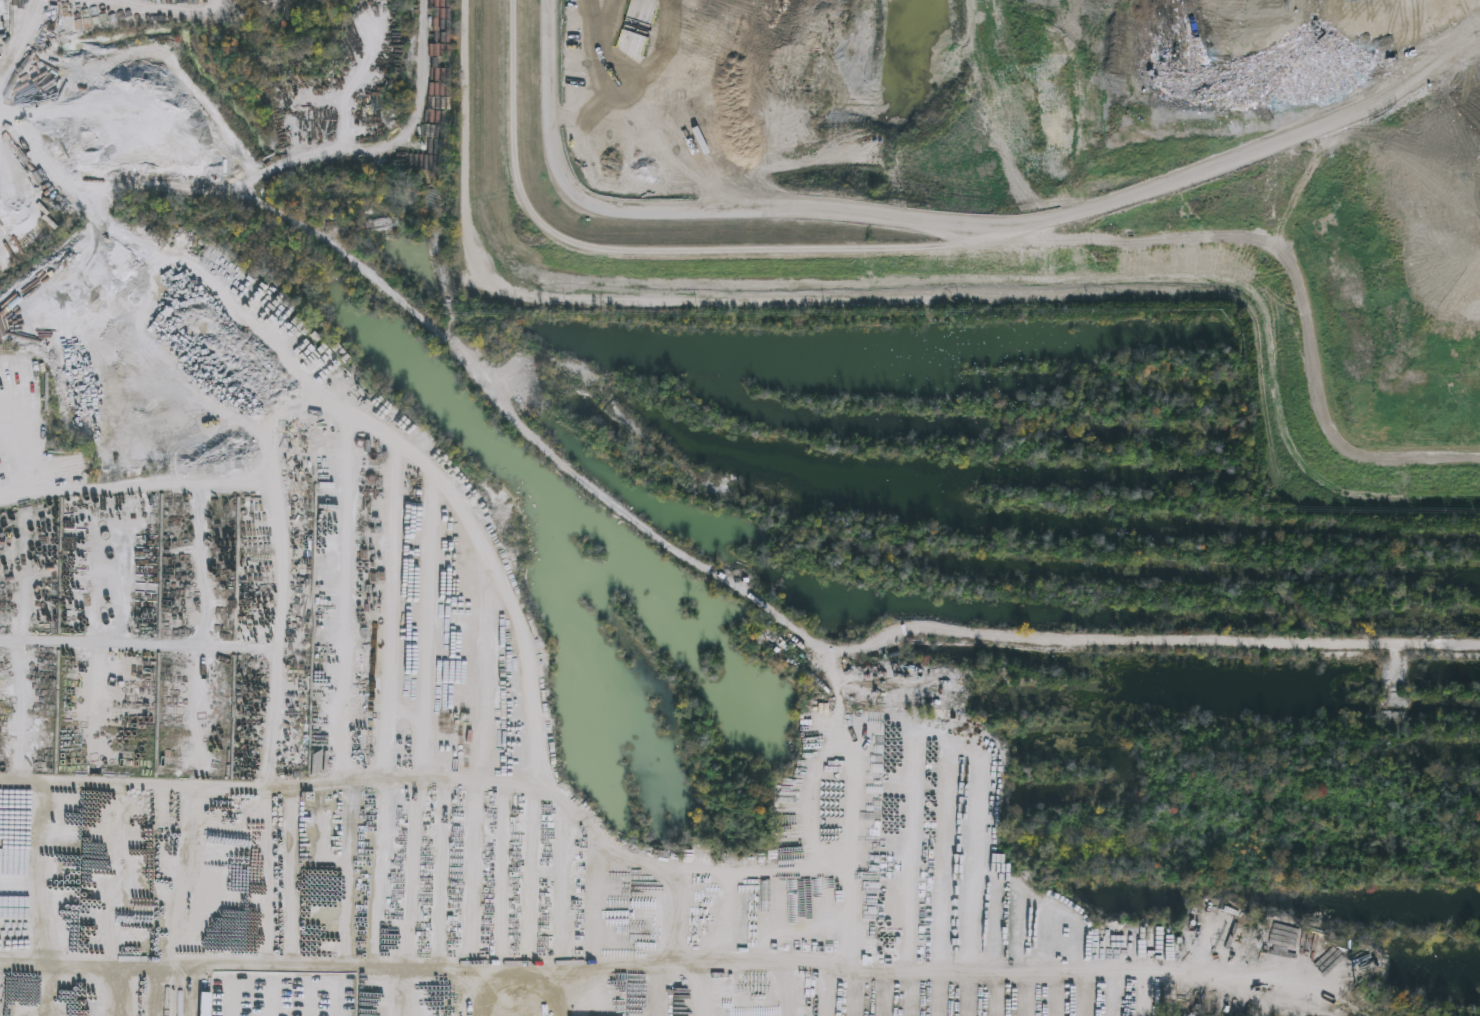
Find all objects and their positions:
road: (24, 49)
landfill: (1021, 181)
road: (942, 224)
building: (786, 998)

